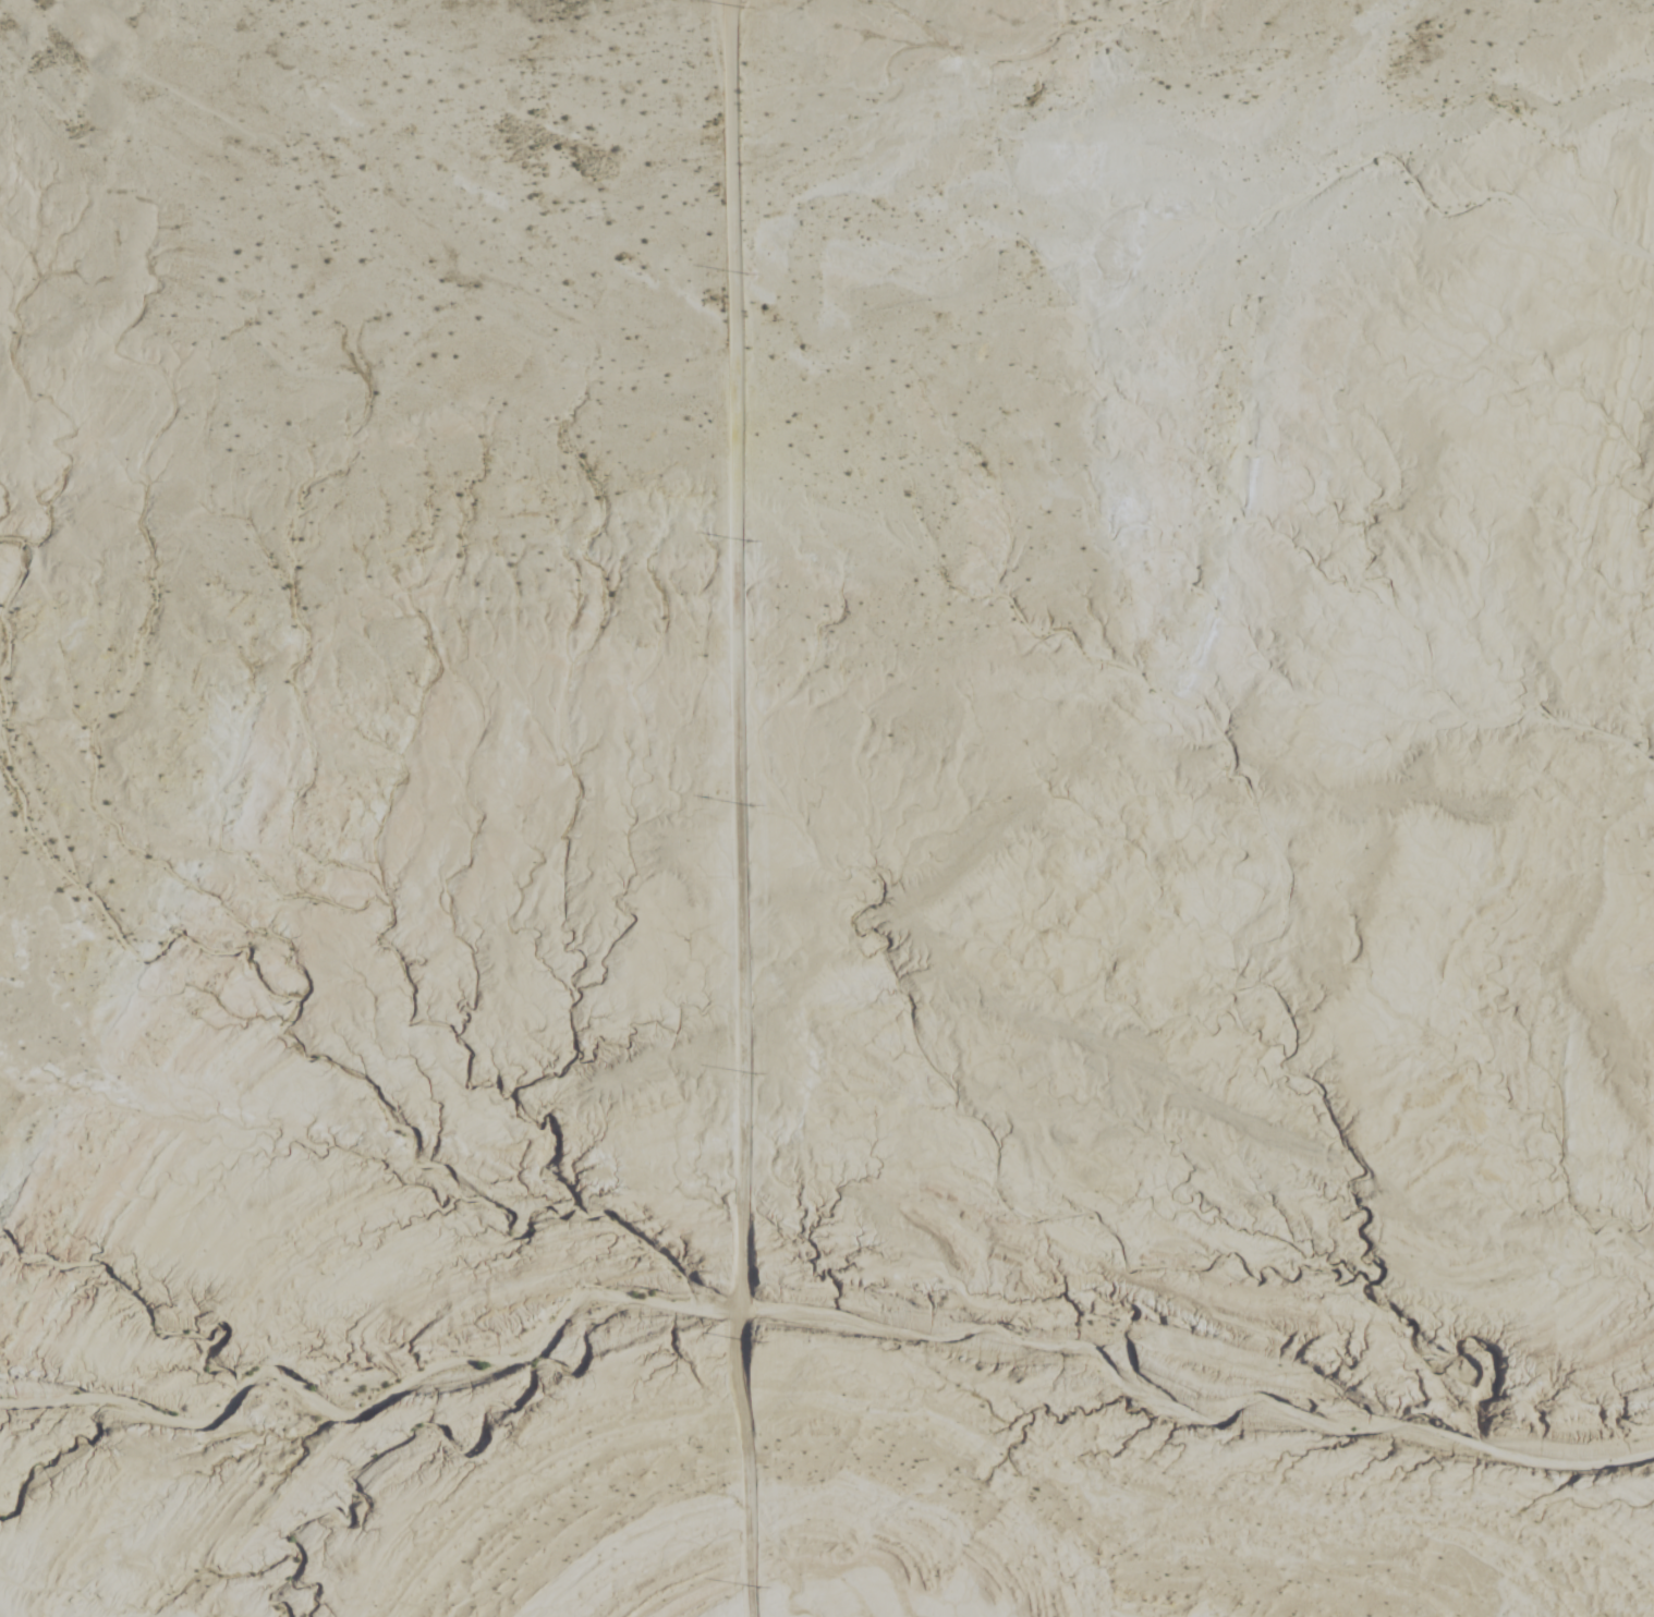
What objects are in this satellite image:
road: (739, 808)

